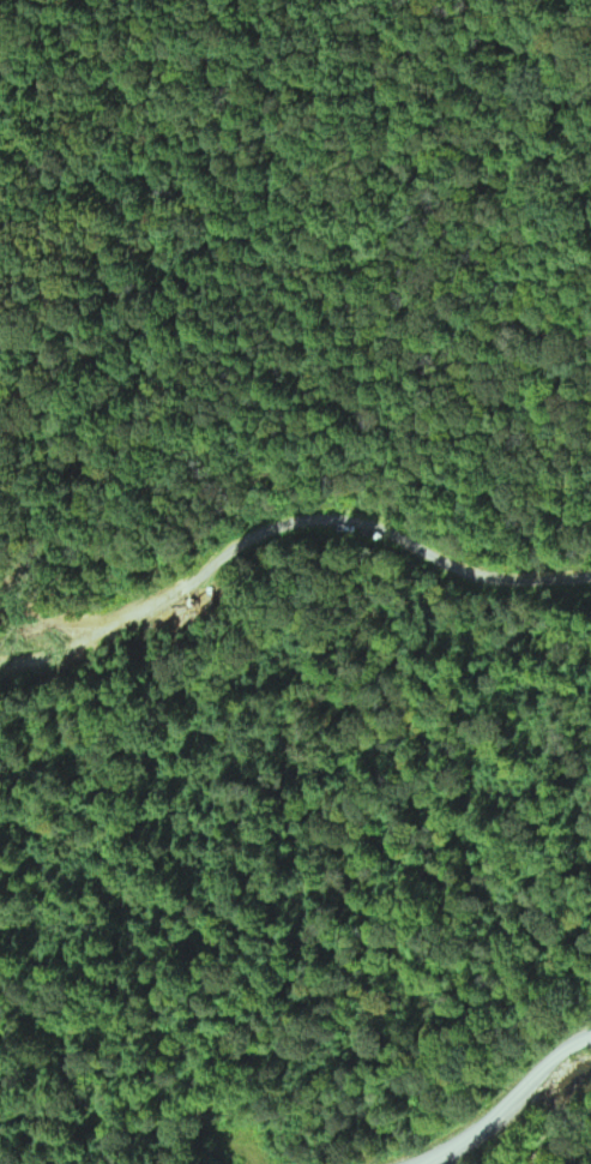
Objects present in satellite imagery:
road: (502, 1109)

